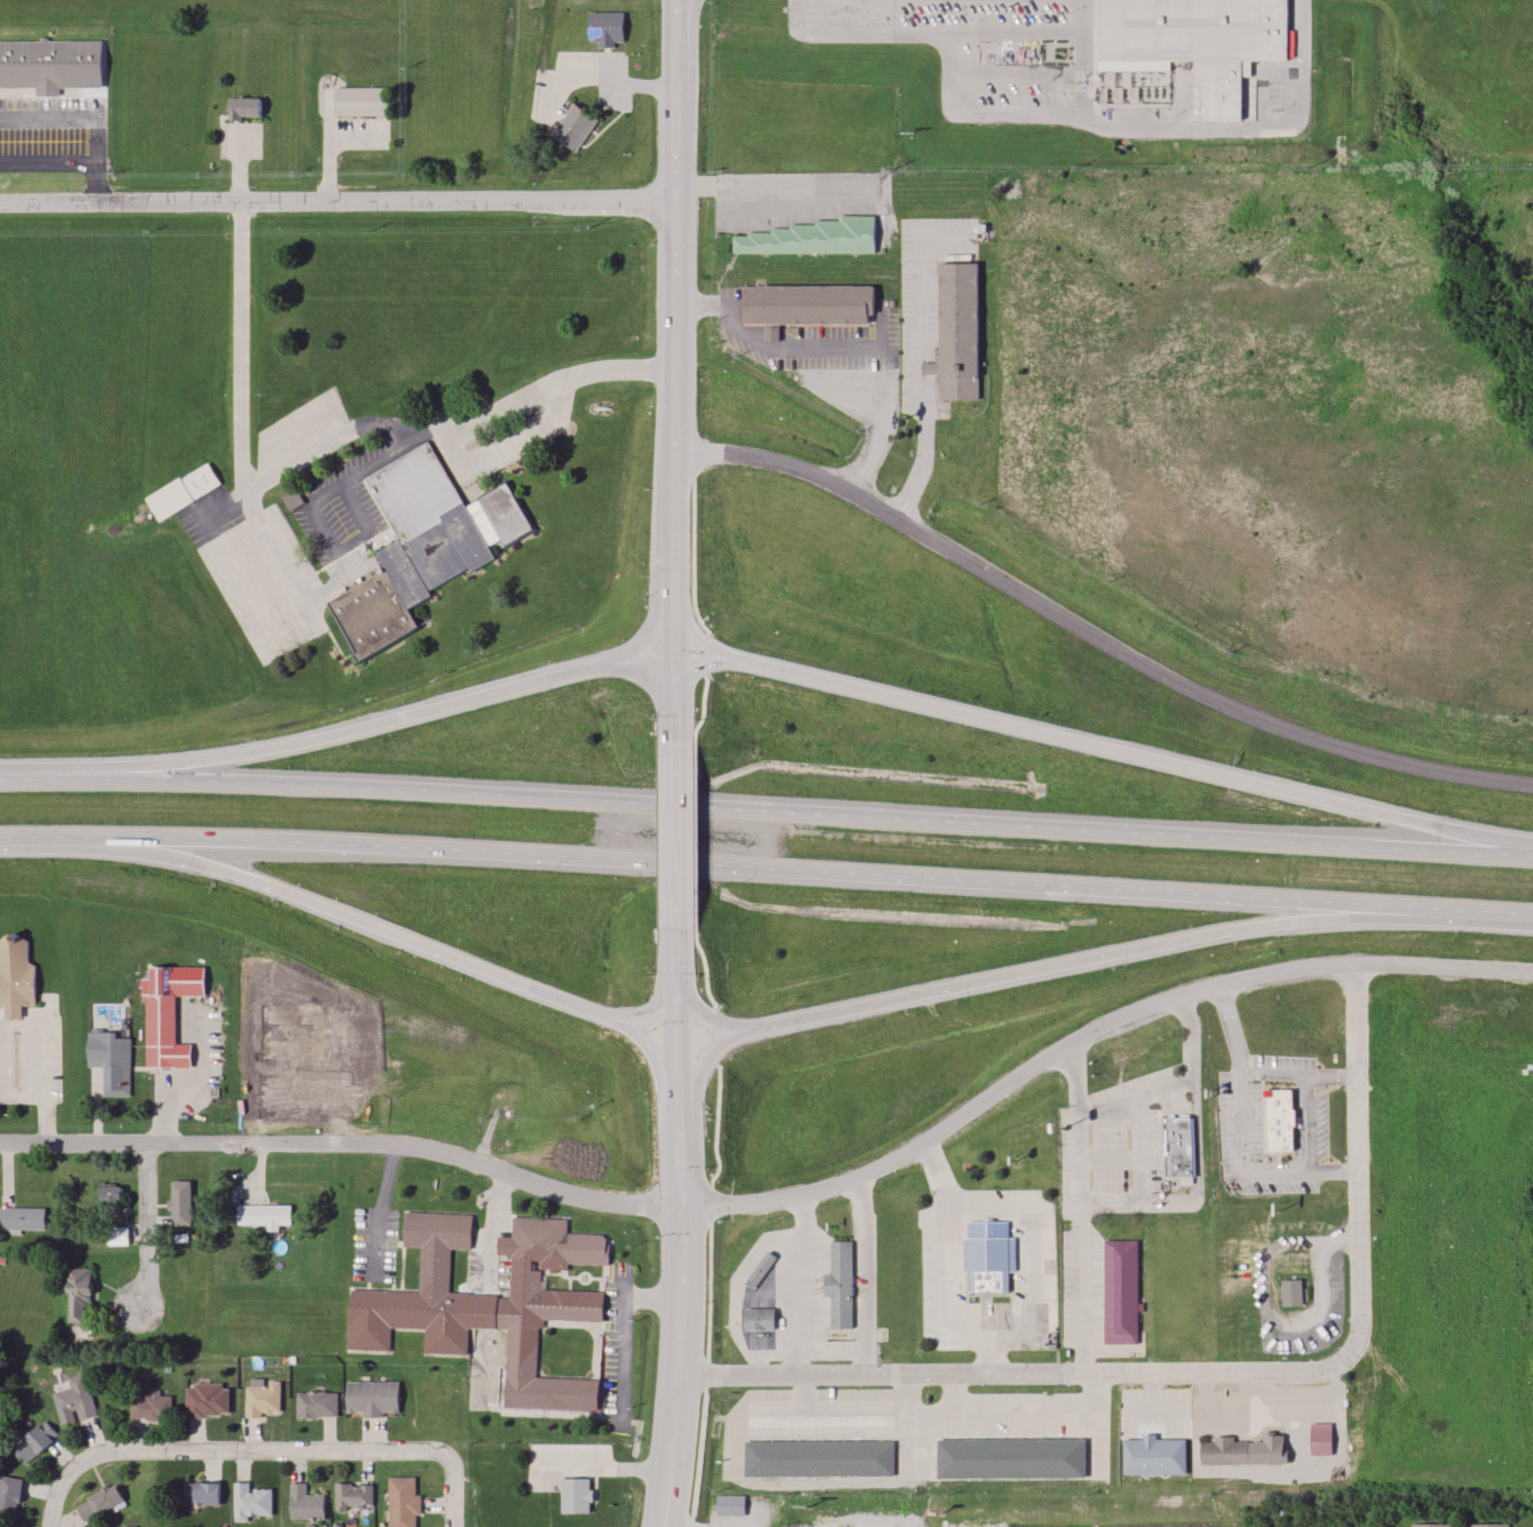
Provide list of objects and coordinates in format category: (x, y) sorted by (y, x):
road: (799, 16)
road: (1082, 19)
building: (606, 29)
road: (940, 35)
building: (1194, 41)
parking lot: (987, 52)
building: (52, 63)
road: (689, 66)
road: (1082, 91)
road: (1297, 100)
building: (362, 102)
building: (244, 108)
road: (92, 111)
building: (575, 128)
road: (1234, 128)
road: (1138, 131)
parking lot: (53, 133)
road: (47, 161)
road: (775, 194)
road: (338, 202)
building: (818, 236)
building: (815, 296)
building: (963, 320)
road: (918, 326)
road: (676, 328)
building: (772, 334)
road: (810, 378)
road: (330, 445)
road: (513, 447)
road: (921, 473)
building: (183, 492)
building: (422, 548)
road: (354, 576)
traffic signals: (674, 576)
road: (693, 620)
road: (685, 627)
road: (1096, 637)
traffic signals: (673, 657)
road: (692, 682)
road: (675, 686)
traffic signals: (677, 715)
road: (360, 725)
road: (678, 739)
road: (1129, 752)
road: (766, 812)
road: (678, 839)
road: (697, 841)
road: (702, 864)
road: (1469, 912)
road: (347, 916)
road: (677, 945)
road: (1074, 964)
road: (704, 965)
building: (16, 976)
traffic signals: (678, 976)
road: (658, 1004)
building: (165, 1016)
road: (699, 1018)
road: (1089, 1032)
road: (679, 1040)
road: (695, 1043)
road: (704, 1059)
building: (113, 1060)
road: (658, 1060)
road: (1301, 1078)
road: (23, 1082)
road: (1136, 1099)
traffic signals: (681, 1104)
road: (159, 1114)
building: (1280, 1120)
road: (710, 1133)
road: (1243, 1139)
building: (1179, 1146)
road: (344, 1147)
road: (1198, 1157)
building: (112, 1202)
building: (181, 1204)
road: (1079, 1207)
traffic signals: (681, 1211)
road: (705, 1211)
road: (378, 1213)
building: (265, 1216)
building: (22, 1218)
road: (146, 1229)
road: (492, 1233)
building: (119, 1237)
building: (987, 1265)
building: (760, 1271)
road: (862, 1275)
building: (839, 1284)
road: (735, 1291)
building: (1119, 1291)
building: (1292, 1292)
building: (79, 1293)
road: (703, 1298)
building: (491, 1303)
road: (485, 1310)
road: (681, 1316)
building: (759, 1319)
road: (624, 1333)
road: (485, 1364)
road: (1213, 1370)
road: (699, 1380)
building: (263, 1398)
building: (372, 1399)
building: (76, 1400)
building: (208, 1400)
building: (317, 1405)
building: (151, 1407)
road: (1156, 1430)
building: (1304, 1439)
building: (34, 1443)
road: (737, 1447)
road: (260, 1452)
building: (1223, 1452)
building: (1154, 1455)
building: (819, 1458)
building: (1010, 1458)
road: (694, 1460)
building: (202, 1492)
building: (10, 1494)
building: (575, 1496)
building: (353, 1497)
building: (252, 1501)
building: (402, 1501)
building: (100, 1503)
building: (305, 1503)
building: (730, 1506)
road: (748, 1523)
building: (1430, 1525)
building: (1489, 1525)

